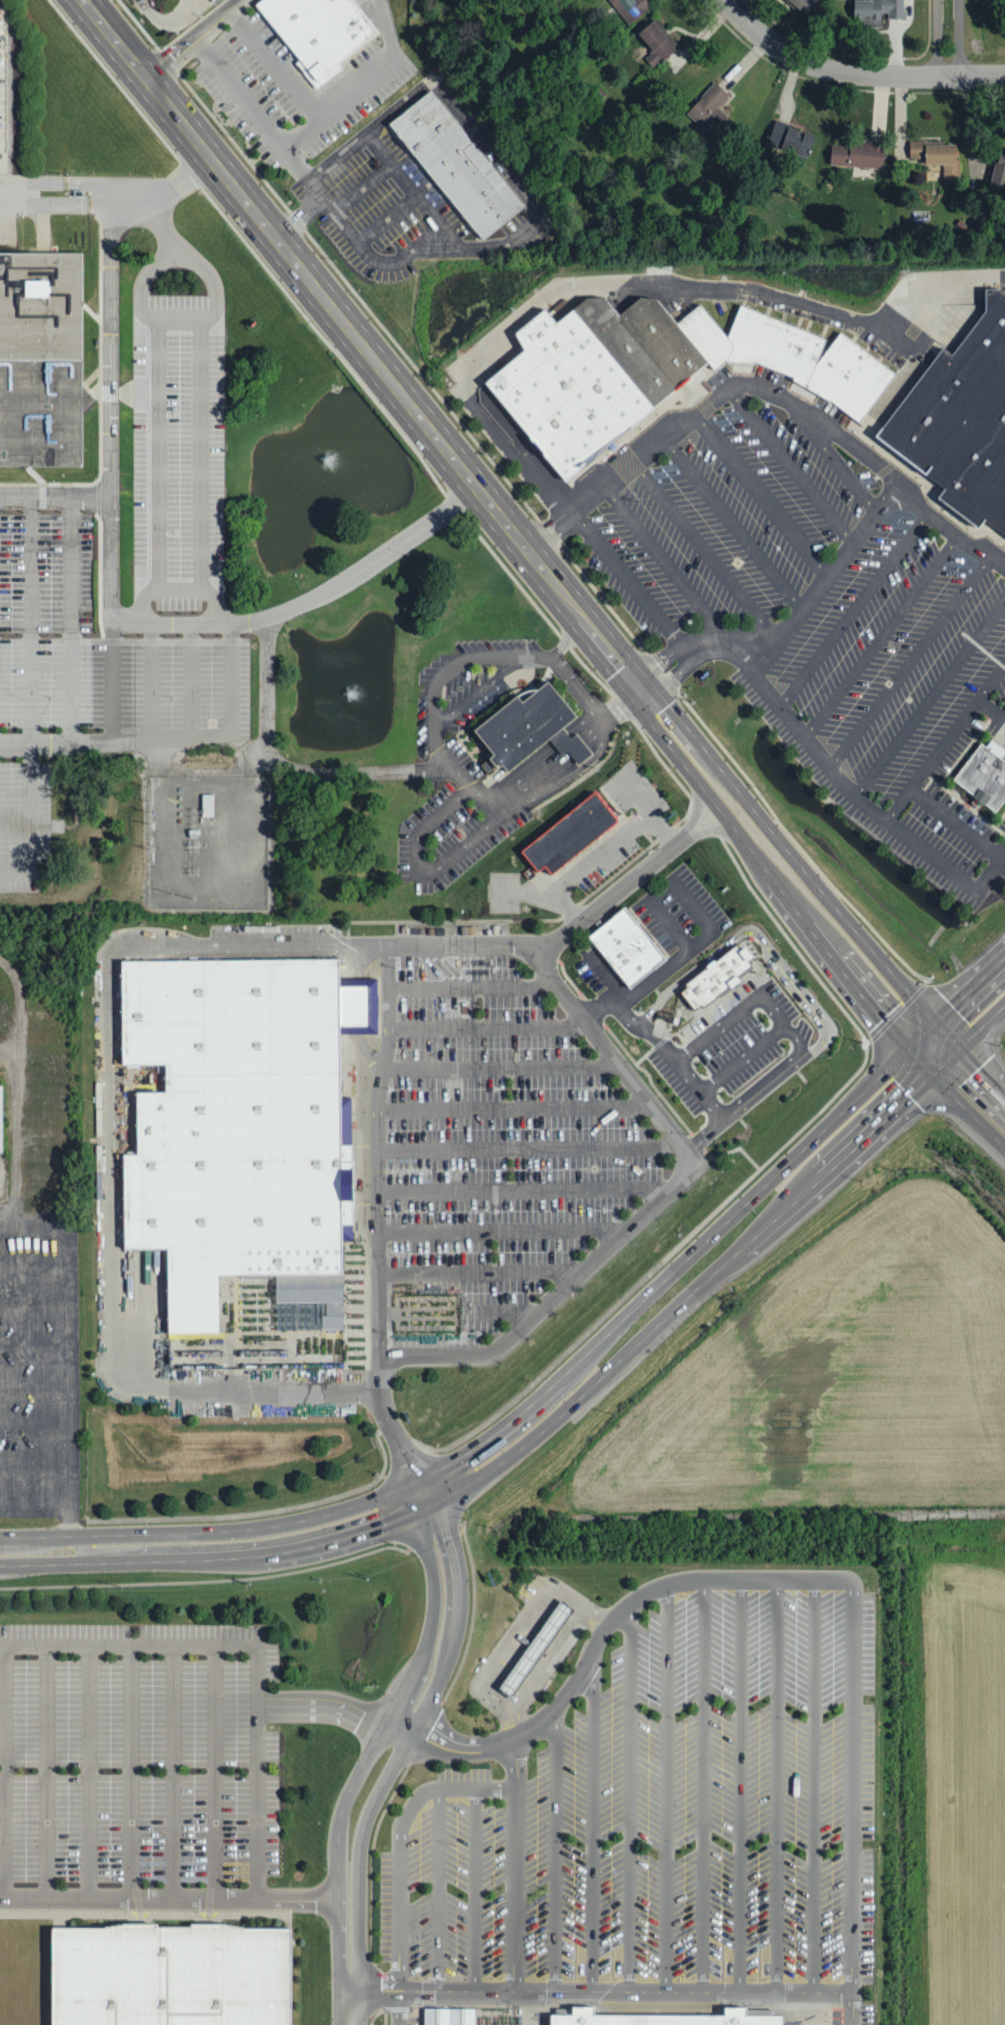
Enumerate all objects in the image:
building: (220, 0)
building: (801, 5)
building: (629, 8)
building: (878, 13)
building: (319, 31)
road: (192, 37)
road: (938, 40)
road: (959, 40)
building: (656, 44)
road: (854, 73)
road: (251, 107)
road: (325, 114)
road: (302, 134)
building: (857, 156)
building: (939, 159)
building: (455, 164)
building: (1000, 169)
road: (363, 189)
road: (412, 191)
road: (83, 192)
road: (538, 199)
road: (388, 220)
road: (165, 227)
road: (306, 274)
road: (640, 282)
road: (179, 315)
building: (41, 360)
road: (111, 361)
building: (655, 368)
road: (771, 391)
building: (960, 419)
road: (203, 429)
road: (154, 430)
parking lot: (178, 452)
road: (834, 457)
road: (796, 470)
road: (55, 498)
road: (766, 498)
road: (737, 525)
road: (705, 548)
road: (665, 560)
road: (630, 581)
road: (178, 588)
road: (309, 600)
road: (854, 607)
parking lot: (822, 609)
road: (794, 617)
parking lot: (49, 620)
road: (72, 622)
road: (882, 633)
road: (769, 645)
road: (537, 657)
road: (910, 660)
road: (455, 667)
road: (230, 680)
parking lot: (192, 681)
road: (192, 681)
road: (991, 681)
road: (152, 682)
traffic signals: (639, 684)
road: (267, 686)
road: (575, 686)
road: (32, 690)
road: (478, 691)
road: (930, 697)
building: (532, 725)
road: (115, 744)
road: (248, 745)
road: (942, 745)
road: (440, 749)
road: (549, 764)
road: (358, 772)
building: (983, 776)
road: (853, 791)
road: (475, 792)
road: (730, 800)
road: (957, 823)
parking lot: (25, 825)
building: (570, 833)
road: (603, 853)
road: (419, 863)
road: (15, 883)
road: (681, 923)
road: (465, 944)
building: (627, 945)
road: (775, 945)
road: (695, 949)
building: (719, 977)
road: (474, 986)
road: (755, 1002)
road: (618, 1004)
road: (363, 1010)
road: (969, 1015)
road: (489, 1027)
traffic signals: (933, 1050)
road: (751, 1056)
road: (500, 1065)
road: (968, 1088)
road: (514, 1106)
building: (1, 1117)
building: (241, 1125)
parking lot: (487, 1137)
road: (529, 1146)
road: (380, 1149)
road: (108, 1161)
road: (682, 1177)
road: (526, 1188)
road: (504, 1228)
road: (481, 1270)
road: (684, 1283)
road: (459, 1311)
road: (67, 1356)
traffic signals: (424, 1503)
road: (788, 1514)
road: (215, 1547)
road: (205, 1581)
road: (605, 1630)
road: (514, 1632)
road: (130, 1645)
building: (536, 1646)
gas station: (536, 1646)
road: (547, 1661)
road: (330, 1703)
parking lot: (141, 1750)
road: (382, 1757)
road: (216, 1769)
road: (47, 1770)
road: (89, 1770)
road: (132, 1770)
road: (173, 1770)
road: (704, 1783)
road: (740, 1783)
road: (777, 1783)
road: (814, 1783)
road: (851, 1783)
road: (667, 1788)
road: (630, 1797)
parking lot: (663, 1812)
road: (593, 1822)
road: (556, 1850)
road: (400, 1857)
road: (516, 1864)
road: (438, 1889)
road: (476, 1889)
road: (175, 1894)
building: (162, 1976)
road: (600, 1991)
road: (850, 2008)
building: (449, 2015)
building: (665, 2015)

